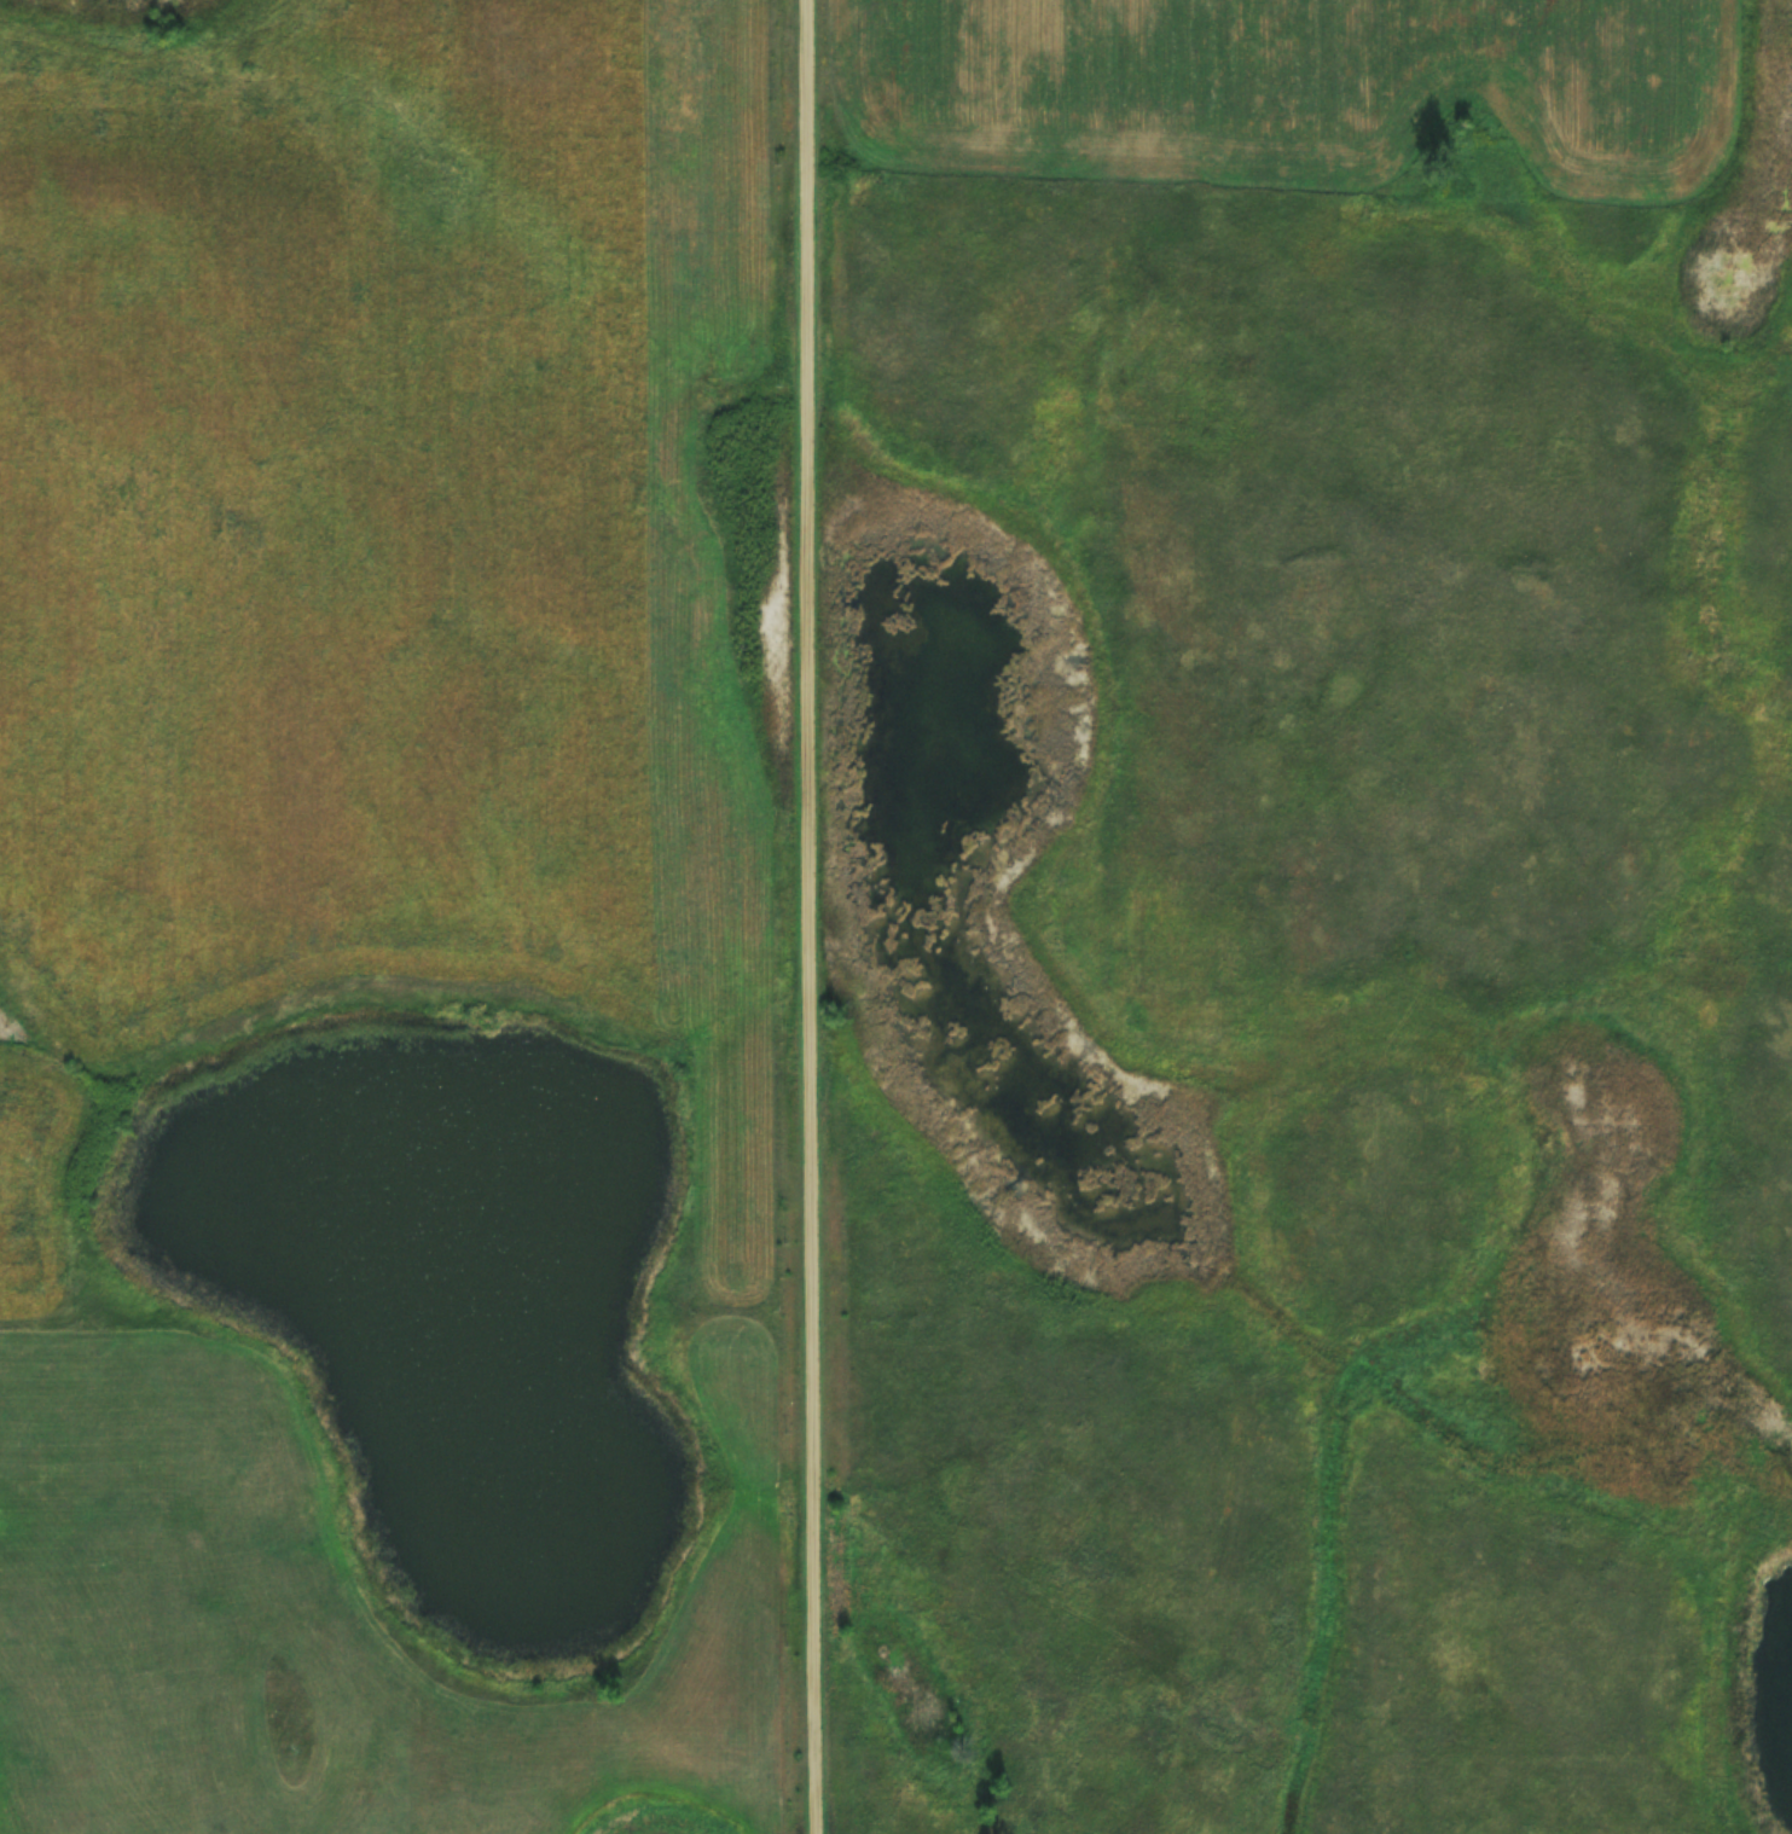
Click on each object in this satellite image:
road: (808, 916)
river: (1665, 1422)

